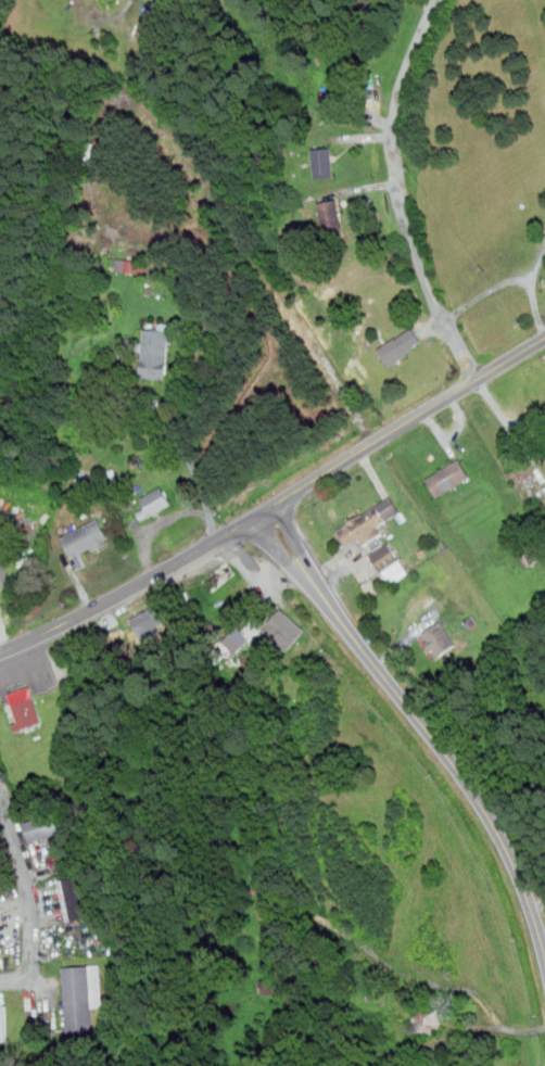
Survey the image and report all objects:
building: (363, 3)
building: (339, 93)
building: (325, 162)
road: (396, 195)
building: (331, 215)
building: (128, 265)
road: (537, 265)
road: (510, 279)
building: (402, 345)
building: (156, 352)
road: (507, 421)
road: (182, 440)
building: (449, 478)
building: (155, 502)
road: (276, 503)
building: (368, 523)
building: (87, 538)
building: (389, 560)
building: (150, 620)
building: (284, 629)
building: (440, 639)
building: (25, 708)
road: (419, 723)
building: (47, 826)
road: (29, 893)
building: (77, 898)
building: (1, 923)
building: (83, 999)
building: (430, 1019)
building: (4, 1024)

